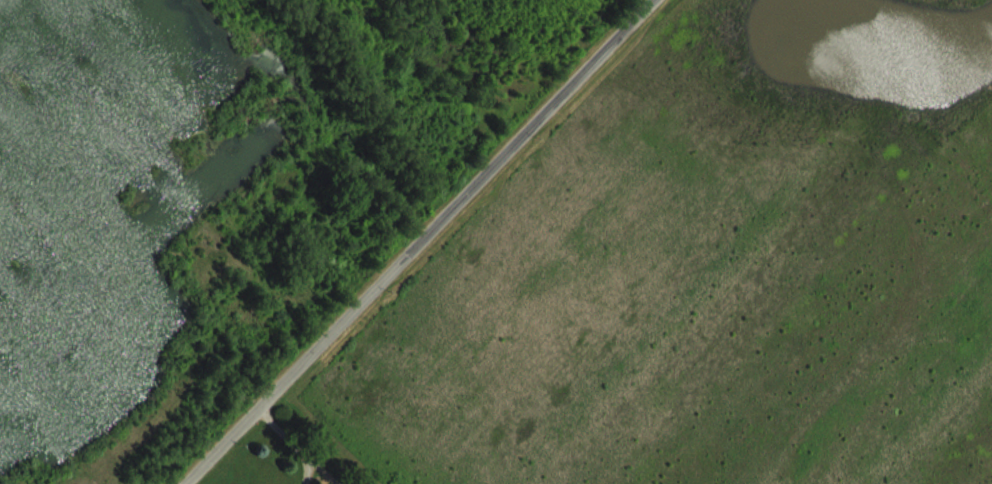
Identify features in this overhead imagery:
road: (419, 241)
road: (298, 445)
road: (308, 472)

